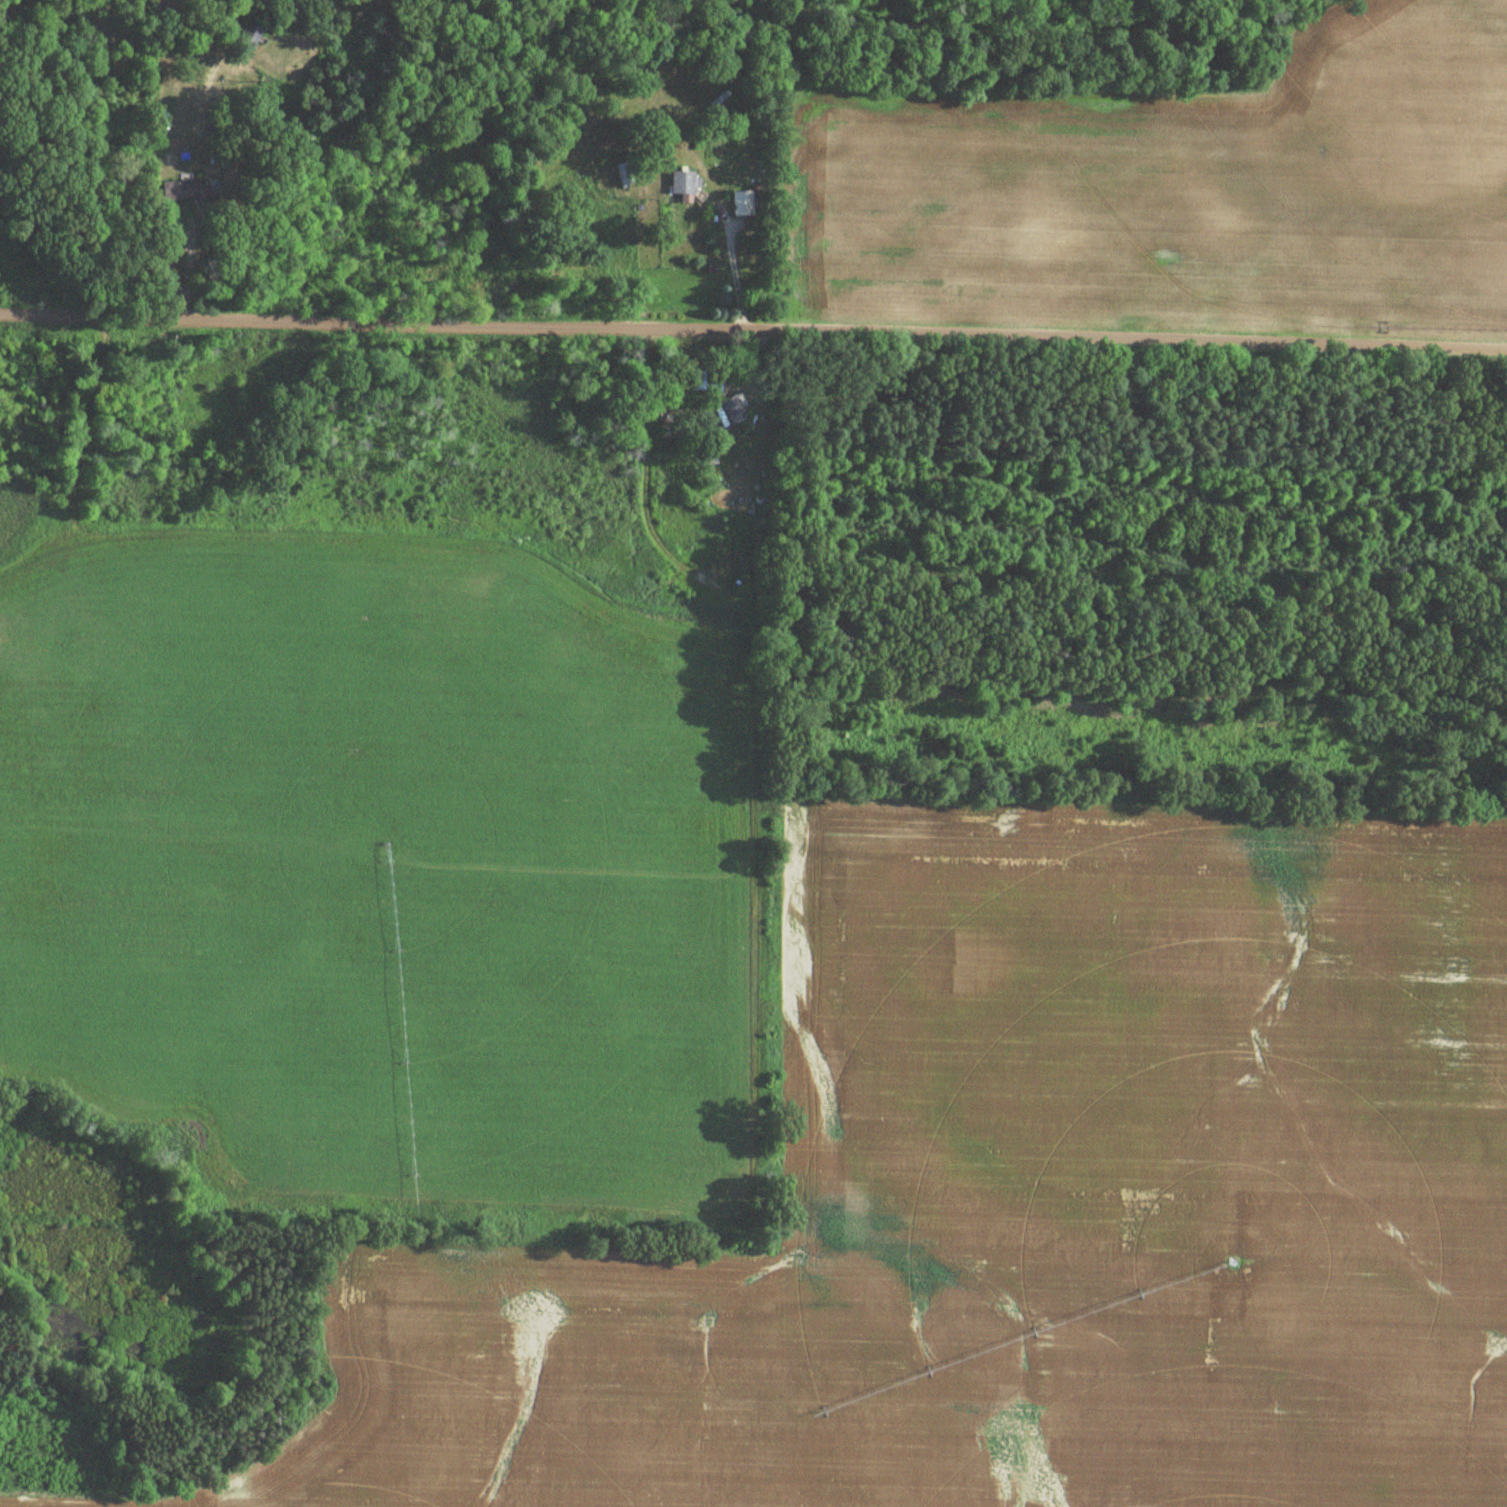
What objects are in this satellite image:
building: (624, 174)
building: (682, 185)
building: (185, 190)
building: (740, 203)
road: (183, 262)
road: (753, 327)
building: (732, 410)

